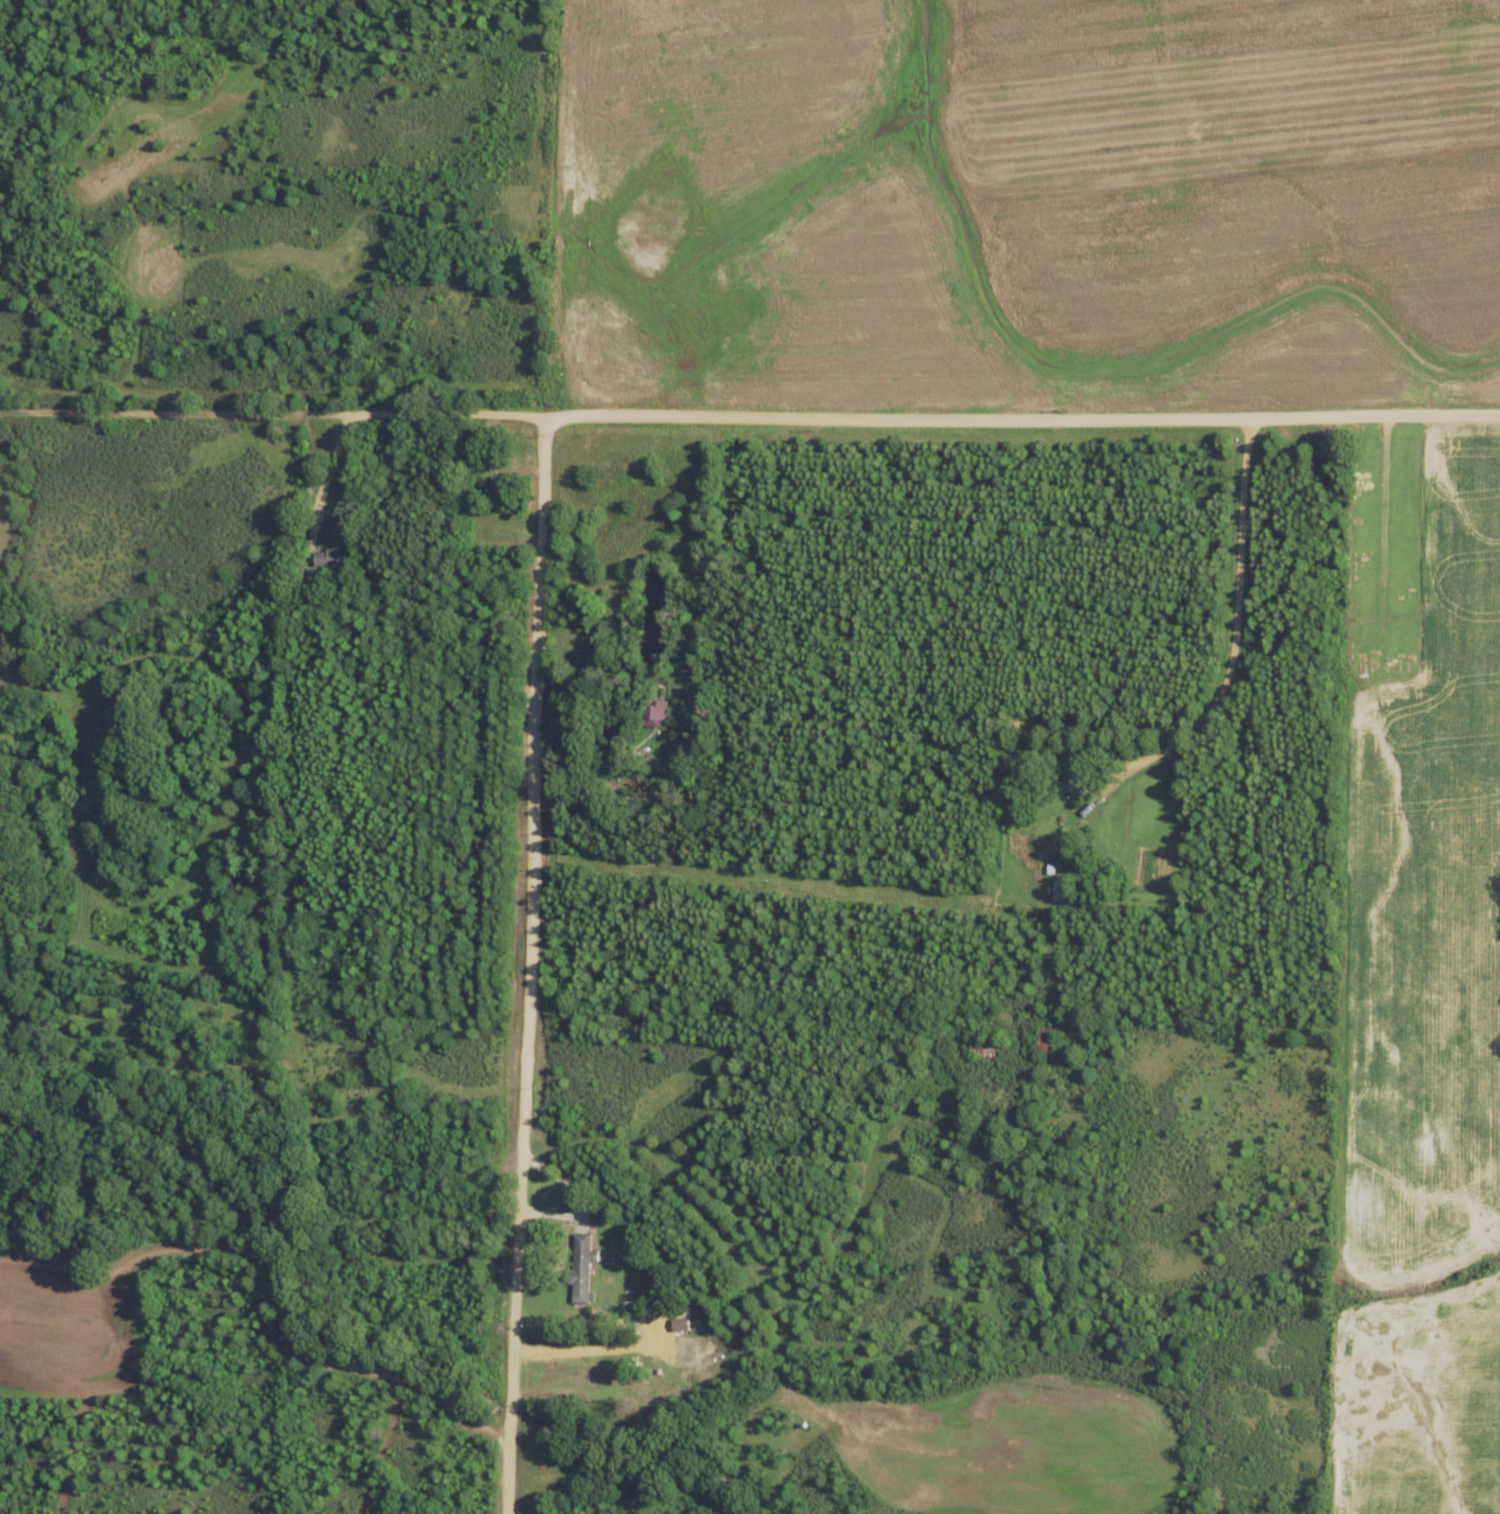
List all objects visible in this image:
road: (749, 413)
building: (499, 487)
building: (331, 557)
road: (1225, 617)
building: (654, 713)
building: (1071, 781)
building: (1060, 890)
road: (517, 964)
road: (696, 1030)
building: (1048, 1044)
building: (583, 1266)
road: (656, 1276)

